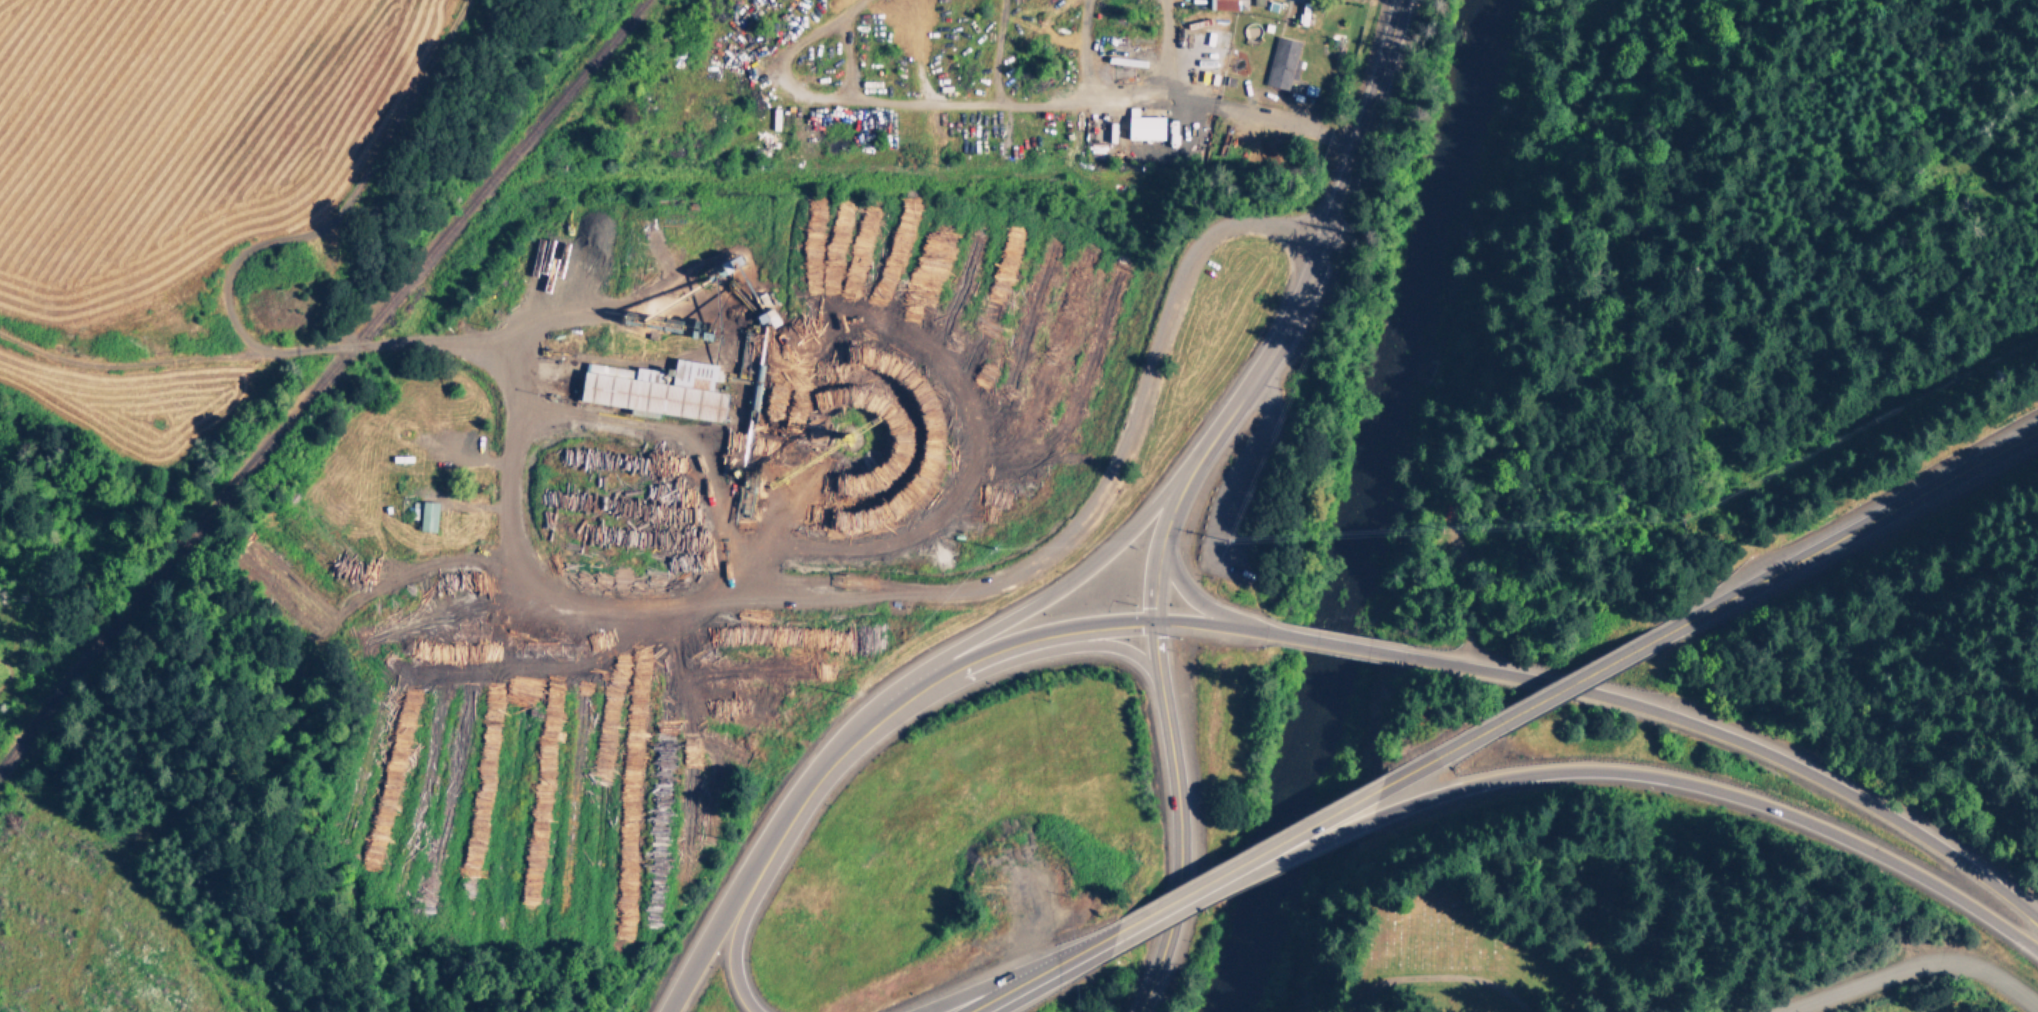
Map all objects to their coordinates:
building: (1228, 6)
building: (1302, 10)
building: (1286, 65)
road: (1223, 106)
building: (1149, 128)
road: (1218, 167)
road: (1323, 249)
building: (774, 319)
road: (125, 364)
railway: (320, 383)
building: (661, 390)
road: (679, 438)
road: (1174, 504)
river: (1363, 506)
building: (431, 516)
road: (1846, 532)
road: (1155, 579)
road: (1061, 588)
road: (793, 590)
road: (1190, 595)
road: (1210, 624)
road: (1094, 629)
road: (1105, 645)
road: (1341, 645)
road: (1155, 653)
road: (978, 660)
road: (1578, 680)
road: (1746, 744)
road: (1443, 757)
road: (829, 768)
road: (1722, 790)
road: (1282, 846)
road: (1178, 850)
road: (1278, 862)
road: (2022, 899)
road: (1148, 918)
park: (1513, 931)
road: (708, 937)
road: (735, 942)
road: (1095, 945)
road: (1914, 967)
road: (999, 982)
road: (1021, 984)
crop: (1882, 986)

